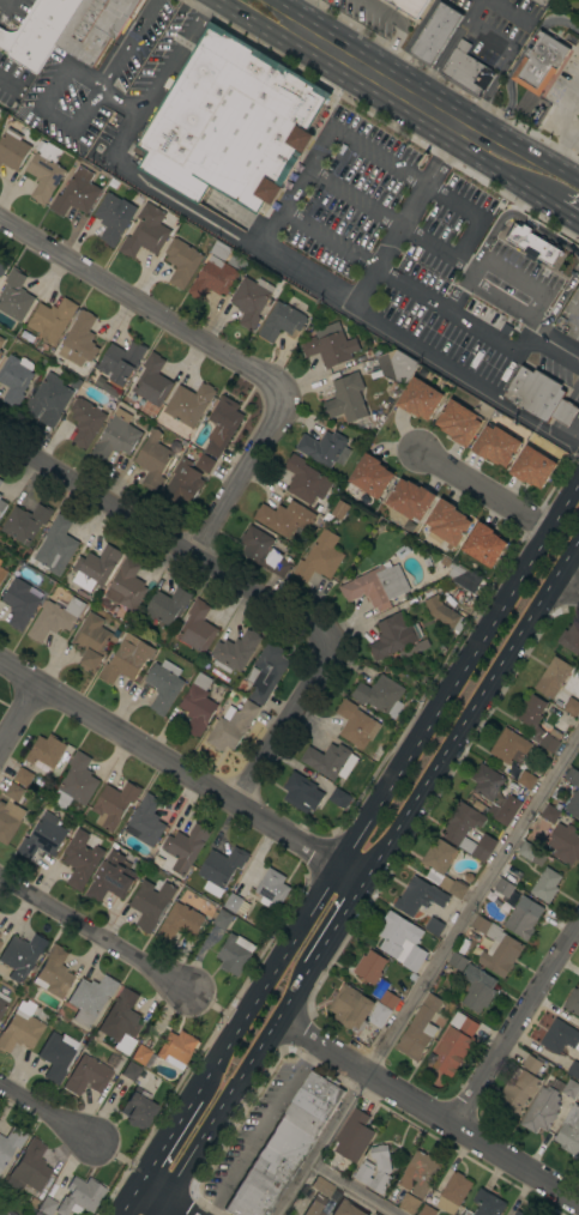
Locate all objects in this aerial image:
building: (541, 1)
road: (284, 2)
road: (6, 5)
building: (410, 6)
road: (472, 10)
road: (297, 17)
road: (263, 26)
building: (94, 28)
parking lot: (496, 28)
building: (37, 31)
road: (398, 31)
building: (435, 34)
road: (489, 35)
road: (126, 44)
road: (514, 62)
building: (539, 62)
building: (468, 69)
road: (7, 84)
road: (397, 90)
road: (120, 101)
parking lot: (562, 105)
road: (38, 108)
building: (227, 116)
building: (12, 149)
road: (563, 149)
road: (531, 152)
road: (115, 156)
building: (44, 170)
road: (511, 179)
road: (296, 188)
building: (76, 193)
road: (354, 198)
road: (567, 212)
building: (114, 217)
road: (519, 217)
building: (145, 231)
road: (465, 236)
road: (328, 240)
building: (531, 242)
building: (181, 261)
building: (237, 261)
building: (2, 266)
road: (460, 266)
road: (496, 270)
building: (212, 278)
road: (411, 290)
building: (14, 296)
road: (500, 298)
building: (251, 300)
road: (559, 300)
road: (143, 303)
road: (572, 315)
building: (52, 319)
building: (281, 321)
building: (1, 340)
building: (79, 341)
building: (330, 347)
building: (0, 352)
building: (120, 361)
building: (396, 365)
road: (442, 368)
building: (14, 379)
building: (152, 381)
building: (539, 395)
building: (345, 398)
building: (48, 399)
building: (420, 399)
building: (188, 403)
building: (85, 422)
building: (459, 422)
building: (222, 425)
road: (572, 431)
building: (115, 436)
building: (495, 446)
building: (324, 448)
building: (152, 460)
building: (205, 464)
building: (532, 467)
building: (370, 476)
road: (231, 478)
building: (304, 479)
building: (0, 480)
building: (182, 484)
road: (482, 490)
building: (0, 496)
building: (410, 500)
building: (2, 506)
building: (339, 509)
building: (284, 518)
building: (25, 522)
building: (447, 522)
building: (483, 544)
road: (163, 545)
building: (55, 546)
building: (263, 551)
building: (319, 557)
building: (0, 558)
building: (95, 567)
building: (452, 567)
building: (2, 574)
building: (466, 582)
building: (126, 585)
building: (376, 586)
road: (566, 590)
building: (20, 603)
building: (165, 606)
building: (444, 612)
building: (54, 618)
building: (197, 628)
building: (388, 636)
building: (571, 639)
building: (91, 641)
building: (234, 652)
building: (126, 659)
road: (457, 670)
building: (266, 671)
building: (553, 677)
building: (163, 685)
building: (380, 695)
building: (197, 705)
building: (572, 707)
road: (471, 709)
road: (19, 717)
building: (536, 721)
road: (281, 723)
building: (356, 724)
building: (231, 725)
building: (509, 746)
building: (46, 752)
building: (330, 761)
road: (168, 762)
building: (578, 769)
building: (23, 776)
building: (572, 776)
building: (526, 779)
building: (487, 781)
building: (76, 782)
building: (301, 792)
building: (339, 798)
building: (113, 804)
building: (573, 804)
building: (503, 810)
building: (11, 812)
building: (550, 812)
building: (145, 821)
building: (465, 830)
building: (42, 836)
building: (565, 844)
building: (185, 847)
building: (531, 852)
building: (438, 857)
building: (80, 859)
building: (219, 869)
road: (350, 871)
building: (111, 878)
building: (545, 885)
building: (453, 887)
building: (272, 888)
building: (502, 889)
building: (418, 896)
building: (150, 903)
building: (236, 903)
road: (343, 909)
building: (523, 917)
building: (222, 919)
building: (179, 923)
building: (434, 926)
road: (94, 933)
building: (0, 936)
building: (402, 941)
building: (0, 942)
building: (496, 947)
building: (234, 954)
building: (22, 955)
building: (457, 961)
building: (369, 967)
road: (426, 972)
building: (54, 973)
building: (477, 987)
road: (257, 993)
building: (90, 998)
building: (388, 999)
building: (573, 1002)
building: (2, 1003)
building: (350, 1008)
building: (379, 1015)
building: (121, 1017)
road: (518, 1027)
building: (20, 1028)
building: (418, 1029)
building: (560, 1036)
building: (454, 1044)
building: (176, 1047)
building: (140, 1054)
building: (56, 1056)
building: (531, 1064)
road: (243, 1069)
building: (573, 1070)
building: (131, 1071)
building: (86, 1076)
building: (571, 1088)
building: (517, 1092)
building: (543, 1107)
building: (138, 1108)
road: (427, 1110)
road: (48, 1111)
road: (261, 1128)
building: (569, 1131)
building: (354, 1136)
building: (10, 1143)
building: (284, 1147)
road: (155, 1153)
building: (32, 1166)
building: (364, 1169)
building: (420, 1173)
building: (322, 1186)
road: (354, 1187)
road: (149, 1191)
building: (453, 1192)
building: (79, 1196)
road: (125, 1199)
building: (34, 1203)
building: (409, 1203)
building: (487, 1203)
building: (46, 1205)
building: (315, 1205)
road: (157, 1207)
road: (175, 1207)
building: (345, 1209)
building: (426, 1210)
building: (6, 1213)
building: (37, 1213)
building: (520, 1213)
building: (374, 1214)

